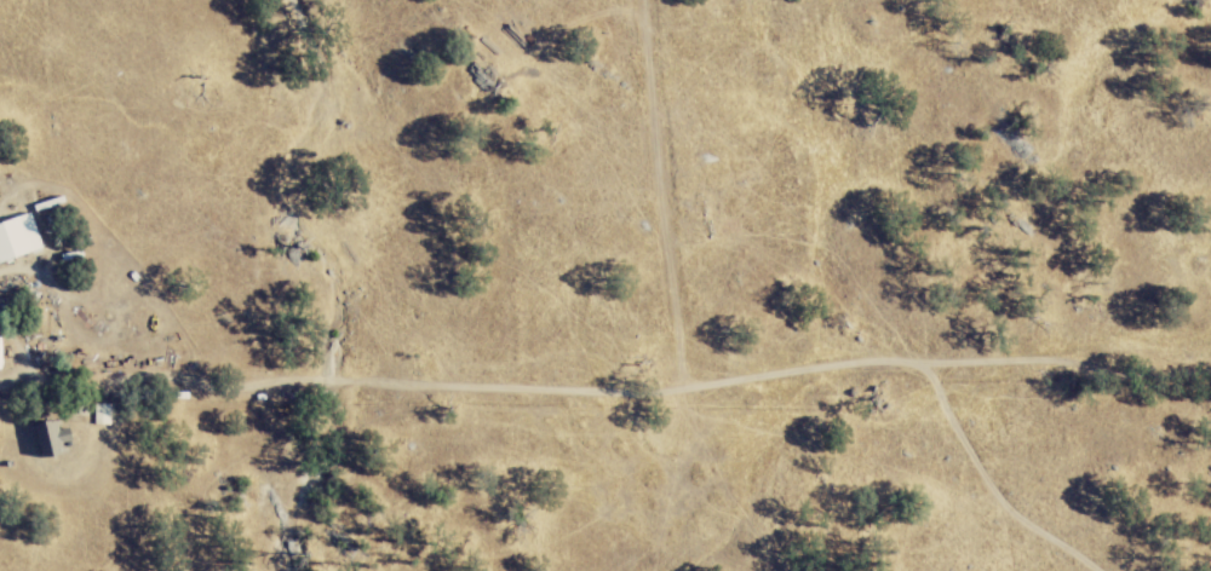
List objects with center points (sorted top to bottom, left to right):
building: (22, 240)
road: (605, 374)
building: (108, 415)
building: (57, 439)

